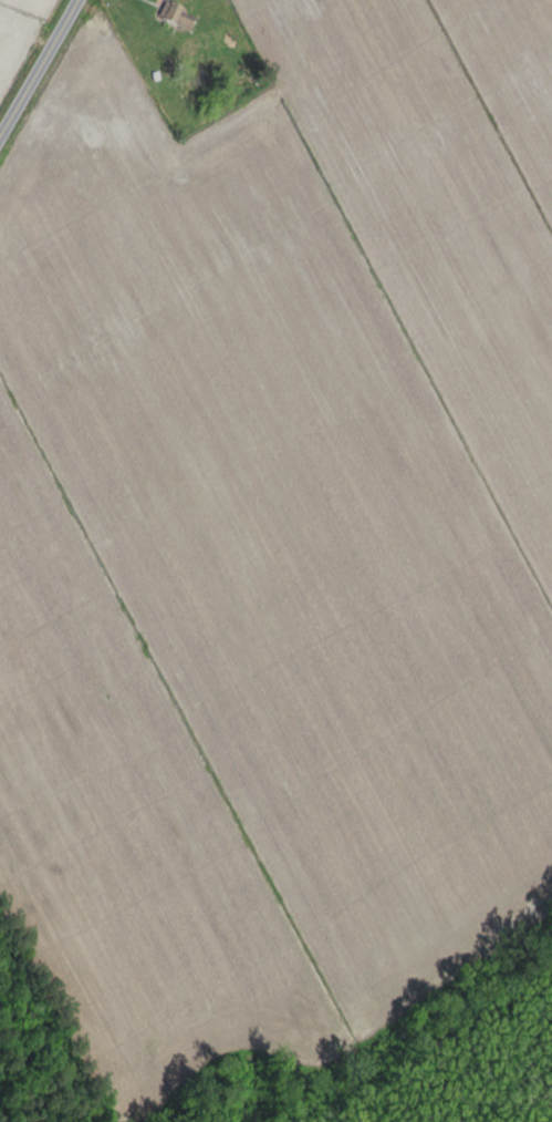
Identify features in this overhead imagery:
road: (33, 62)
road: (1, 320)

